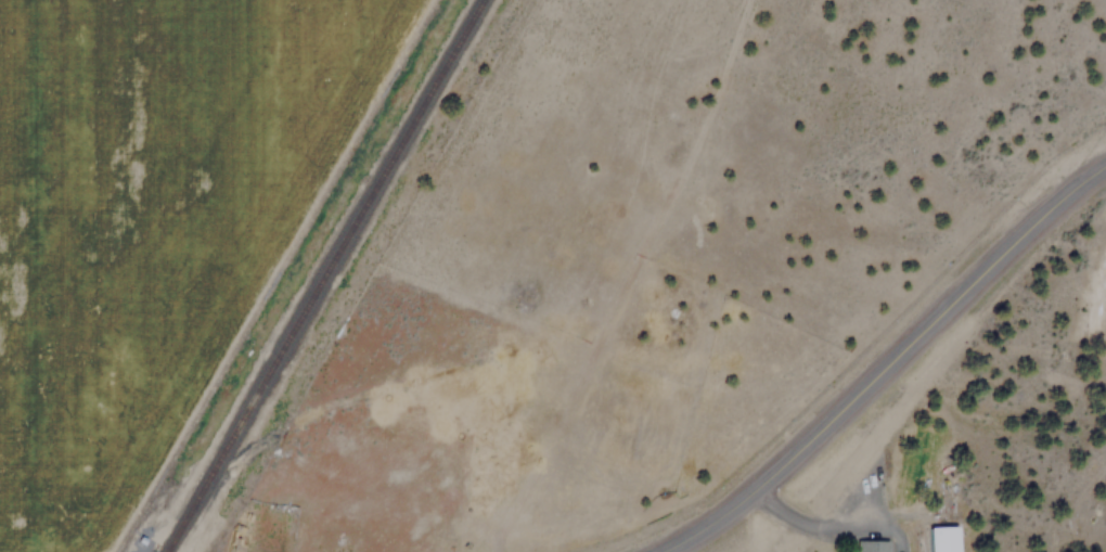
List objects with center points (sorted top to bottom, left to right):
railway: (329, 275)
road: (631, 278)
road: (889, 364)
building: (1076, 527)
building: (937, 538)
building: (869, 544)

